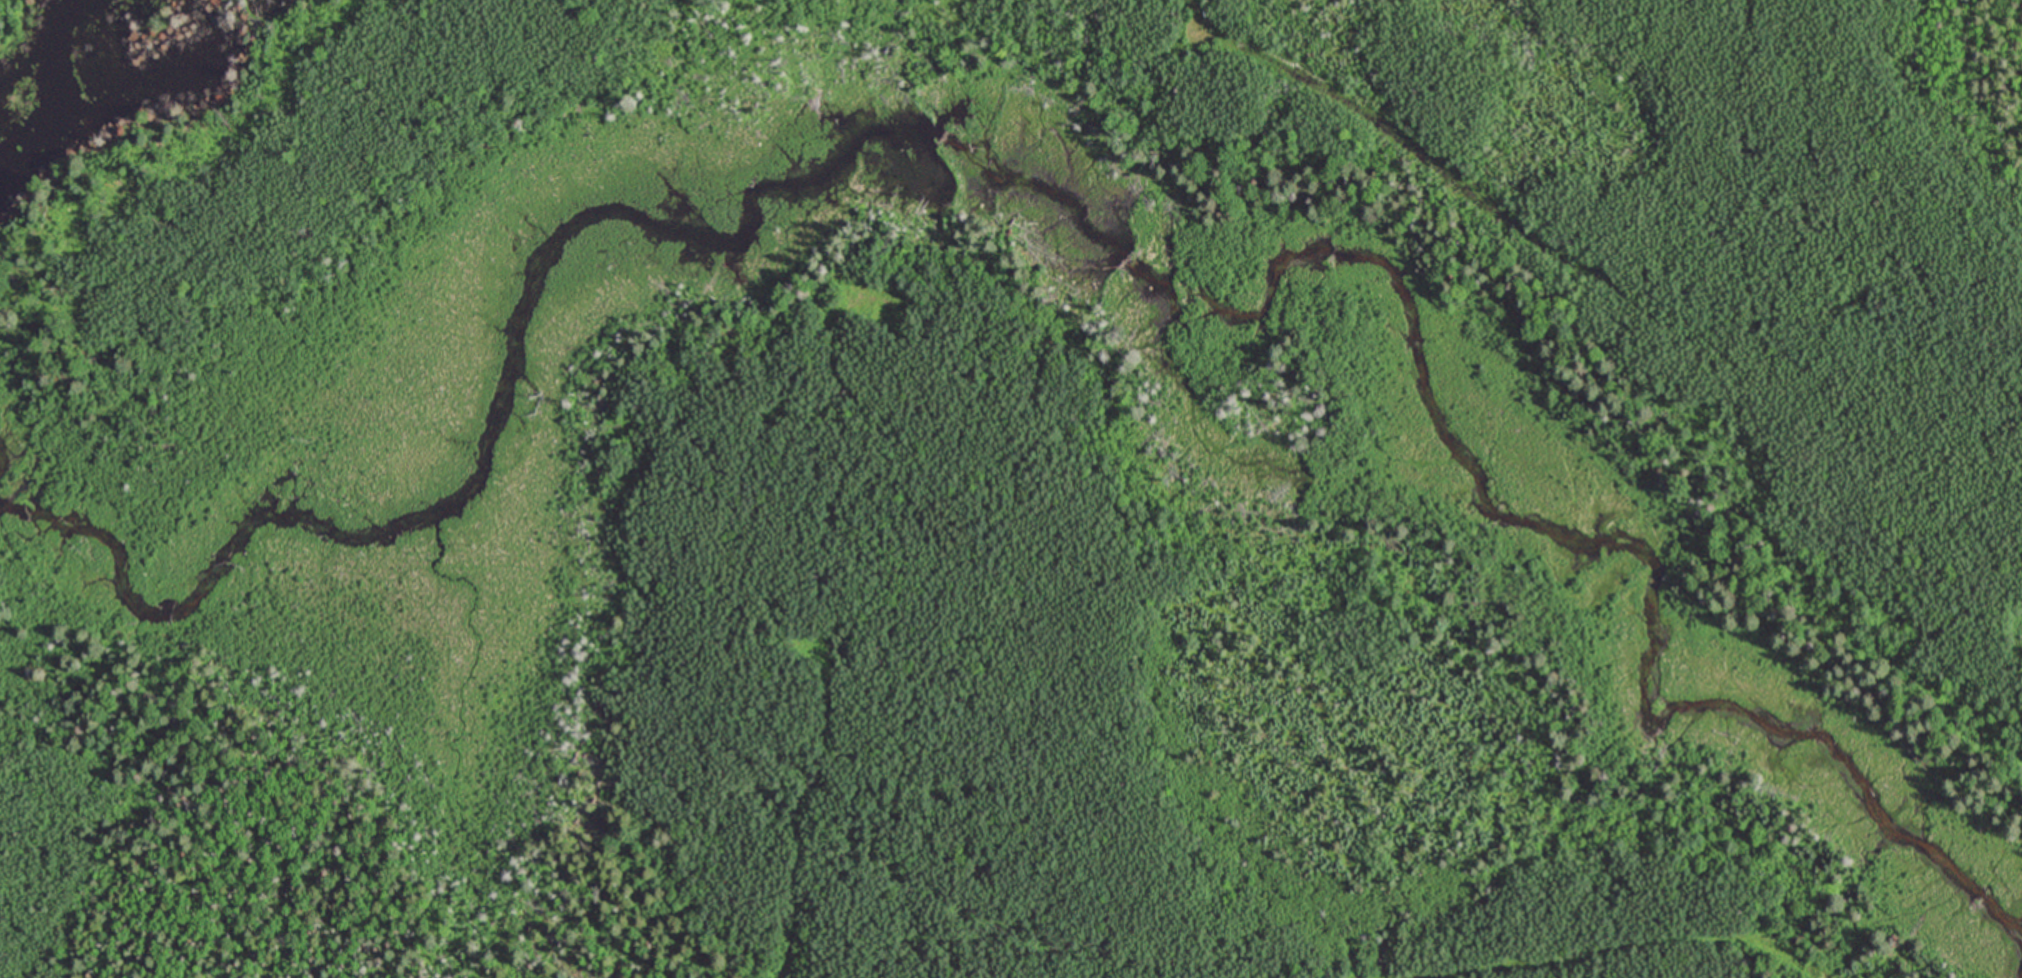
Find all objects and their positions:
road: (13, 22)
road: (1351, 107)
river: (1408, 309)
river: (544, 320)
river: (1789, 726)
road: (799, 813)
road: (1616, 949)

